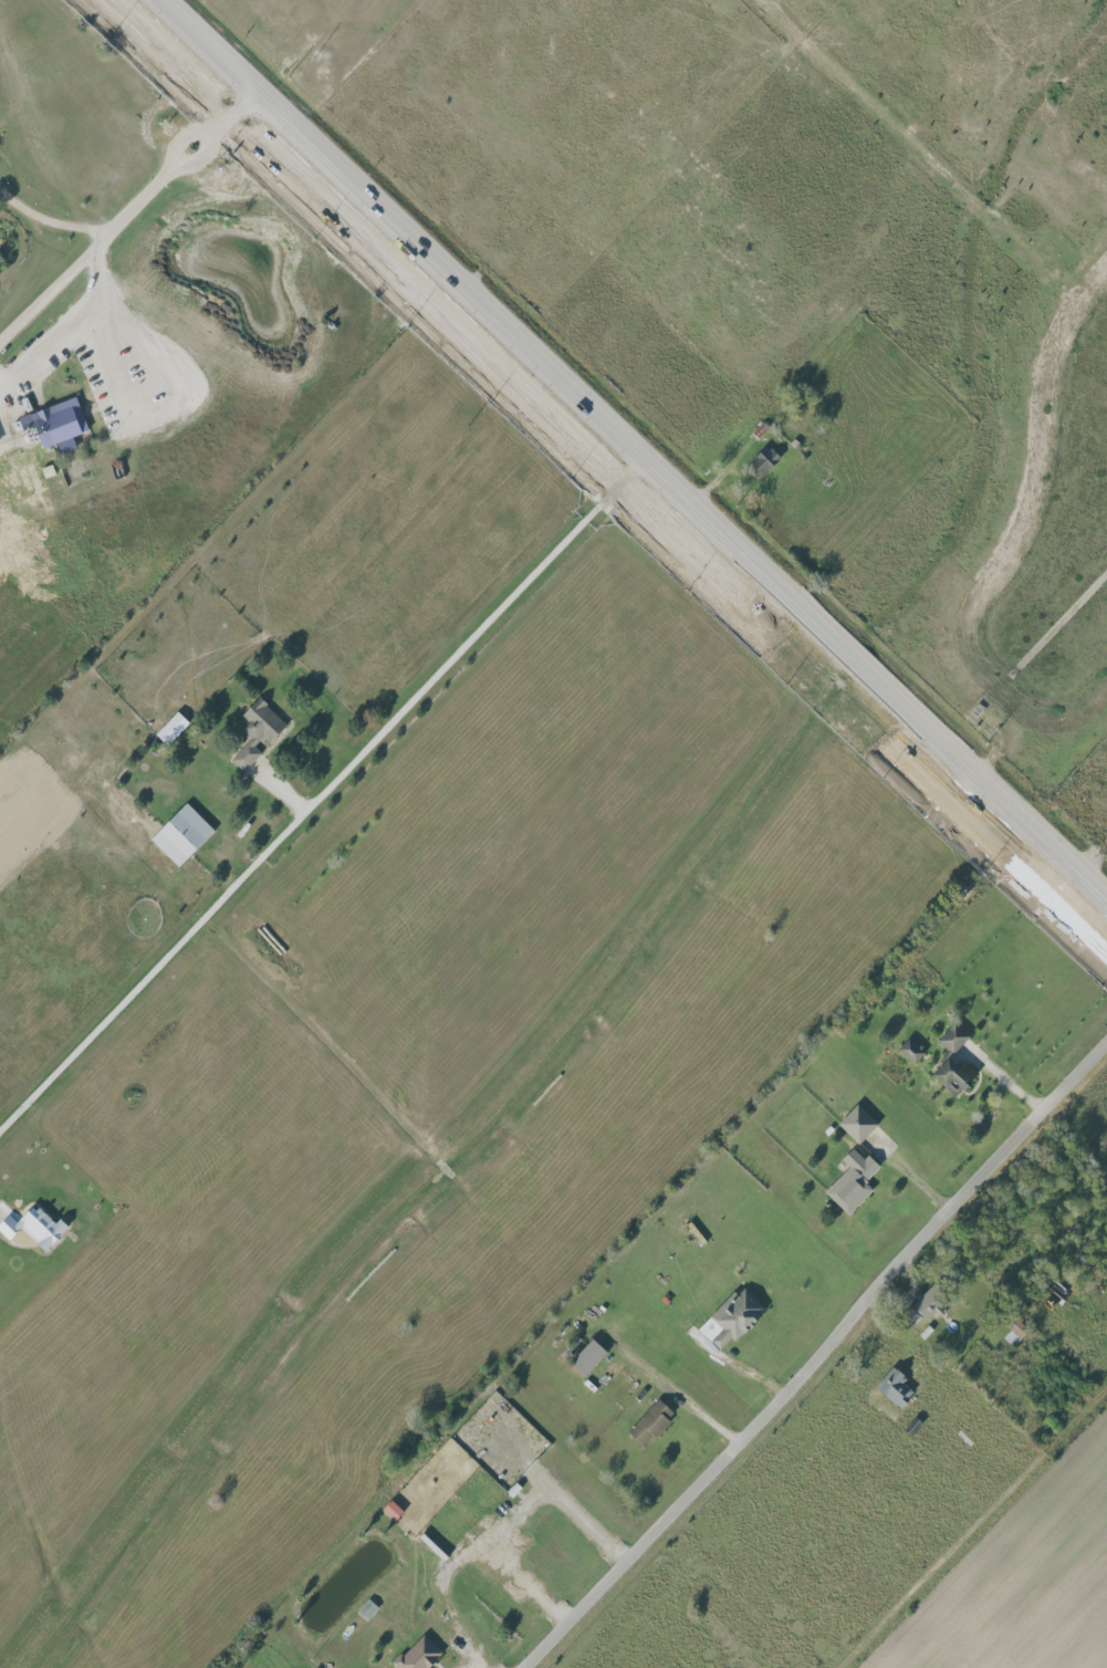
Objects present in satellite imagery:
road: (128, 213)
road: (48, 221)
road: (71, 325)
building: (56, 425)
road: (631, 456)
building: (763, 461)
building: (171, 729)
building: (257, 732)
road: (326, 806)
building: (181, 835)
building: (953, 1039)
building: (910, 1051)
building: (951, 1077)
building: (857, 1124)
building: (853, 1182)
building: (34, 1228)
building: (928, 1303)
building: (732, 1317)
building: (587, 1357)
road: (819, 1359)
building: (895, 1388)
road: (693, 1407)
building: (650, 1422)
building: (390, 1510)
road: (515, 1515)
road: (980, 1535)
road: (442, 1597)
building: (418, 1655)

